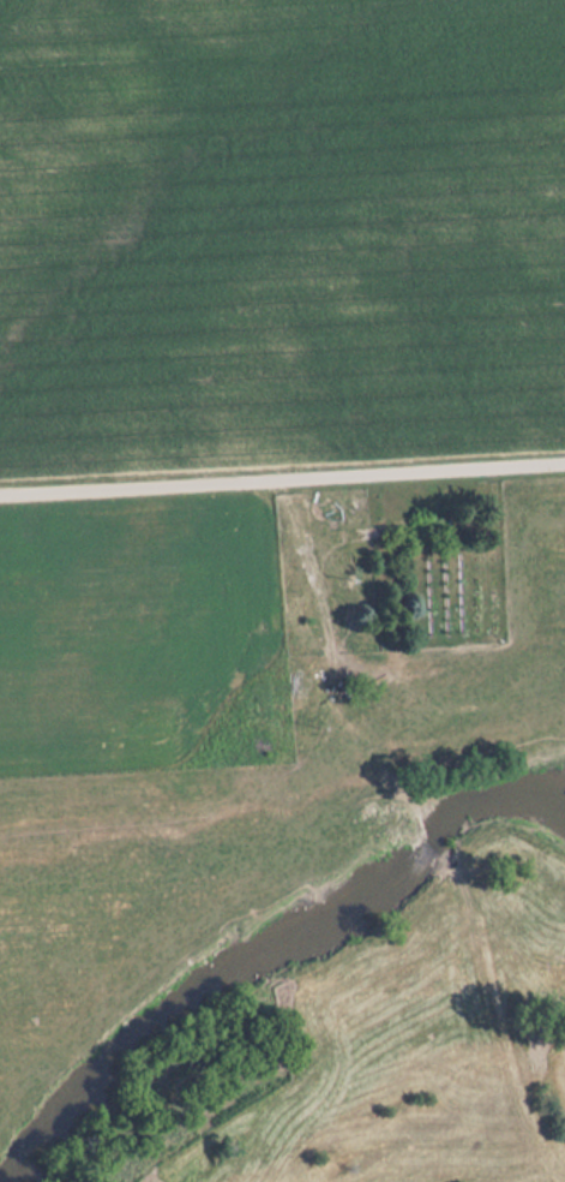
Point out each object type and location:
river: (272, 947)

